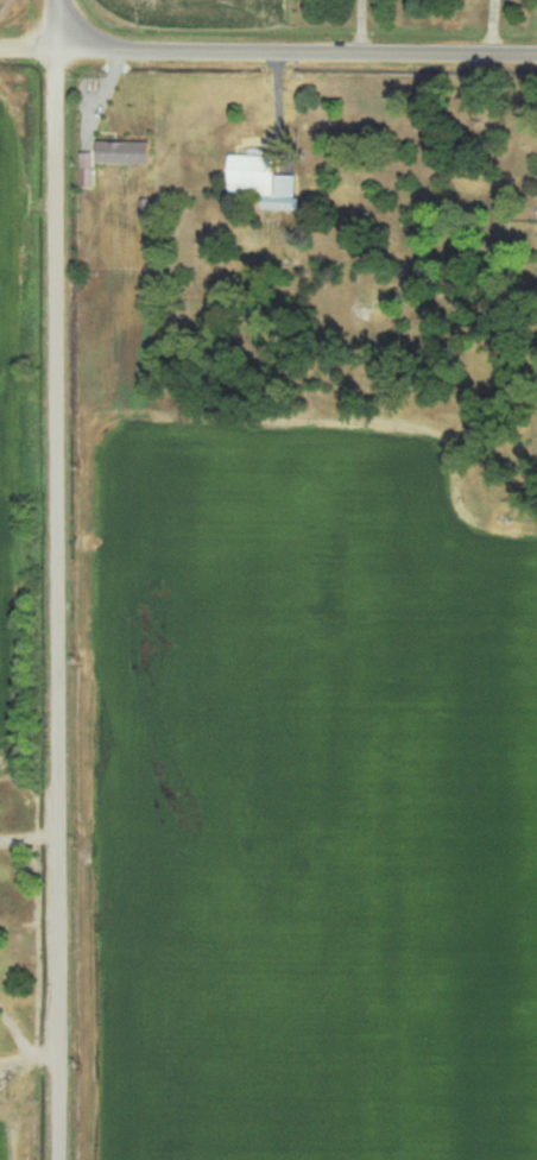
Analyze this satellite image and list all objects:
road: (39, 43)
road: (288, 48)
building: (125, 153)
building: (89, 178)
building: (265, 182)
road: (58, 597)
road: (30, 846)

